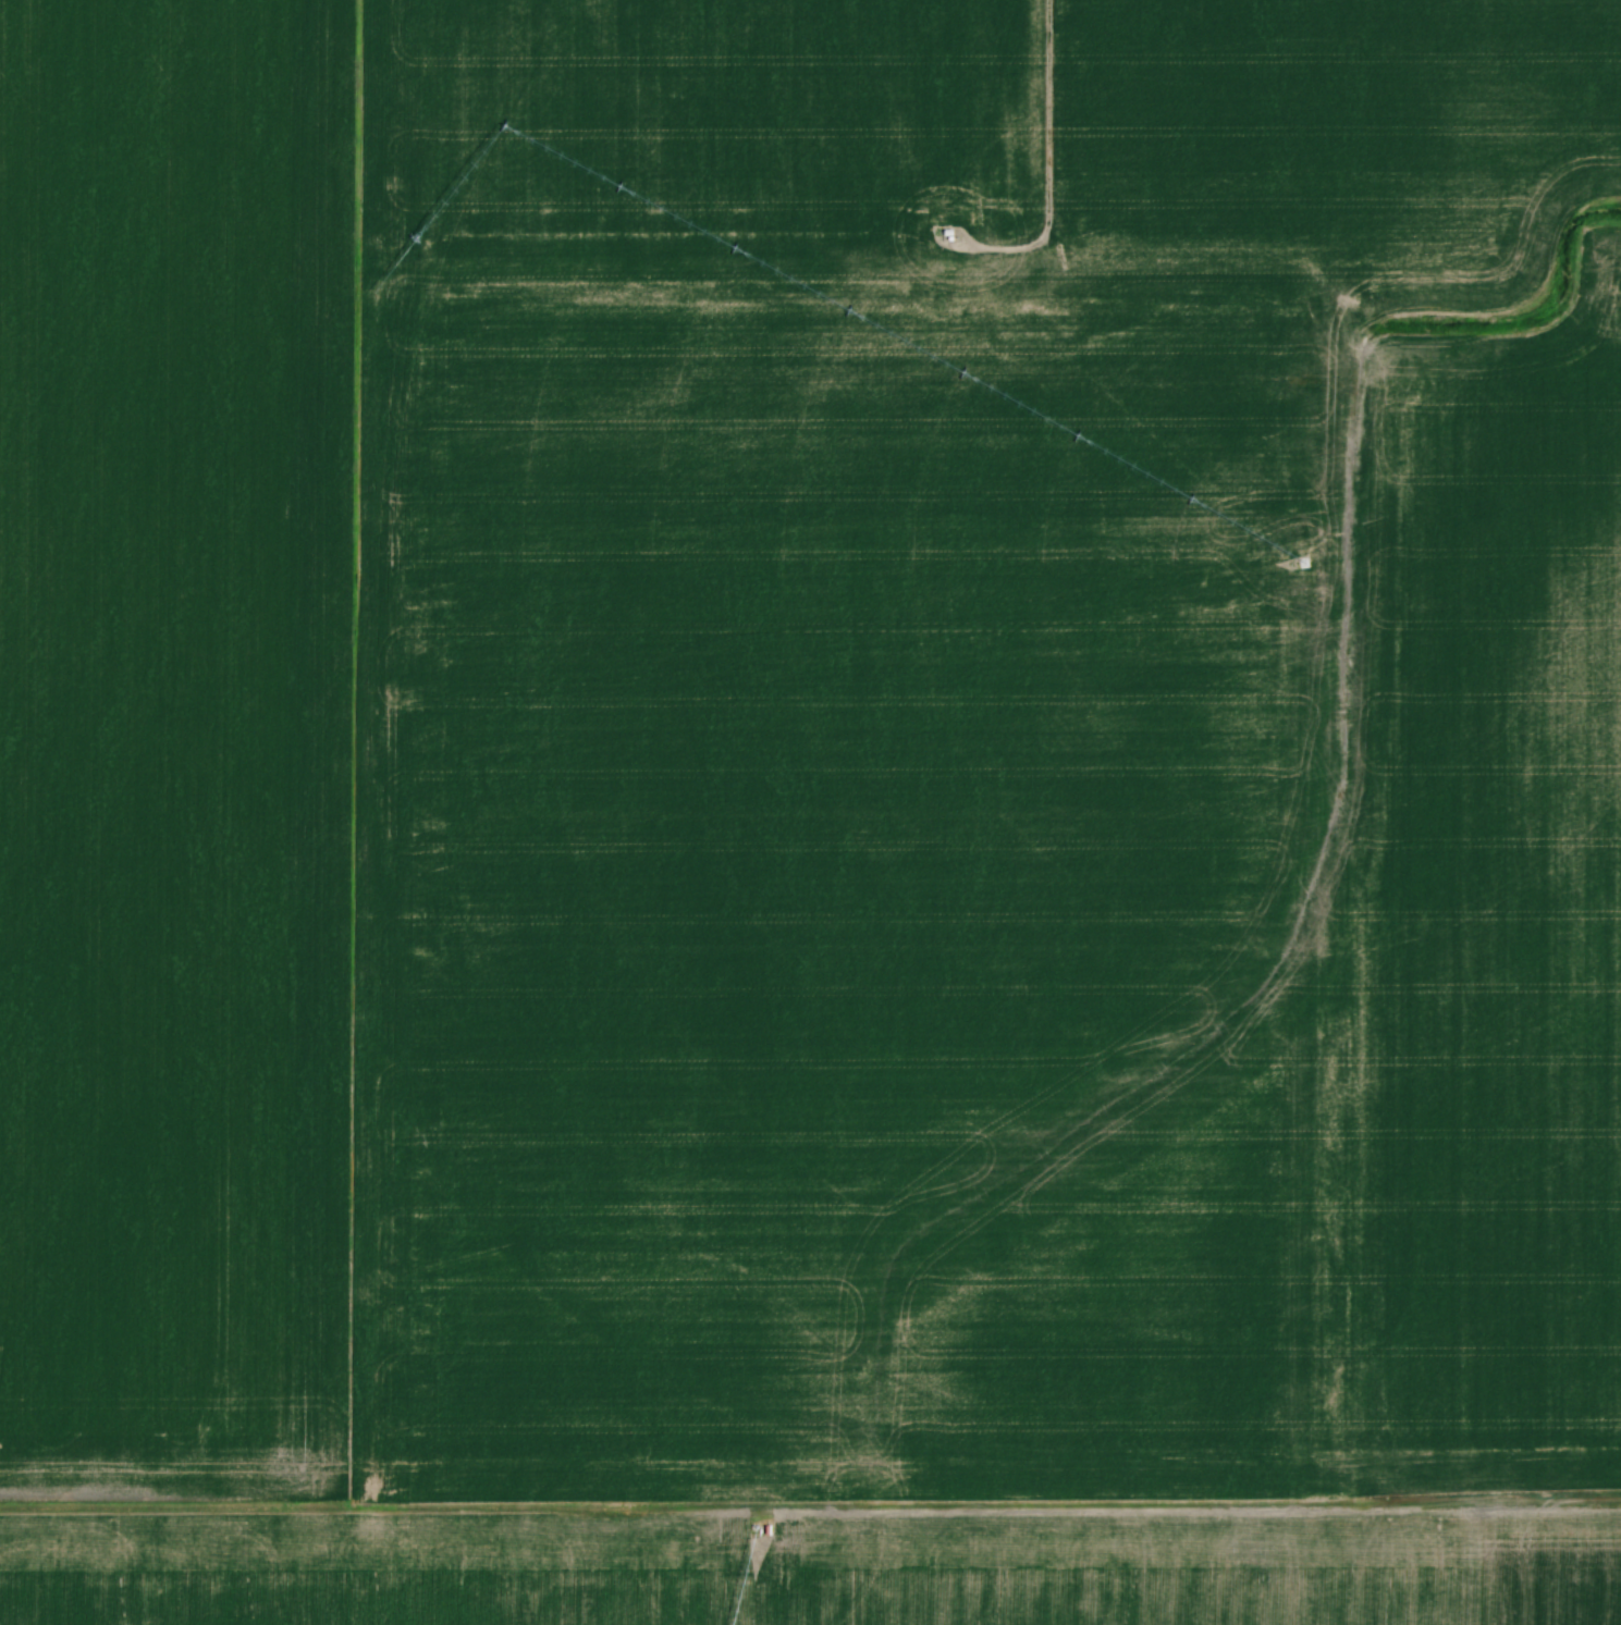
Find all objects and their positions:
building: (631, 1509)

